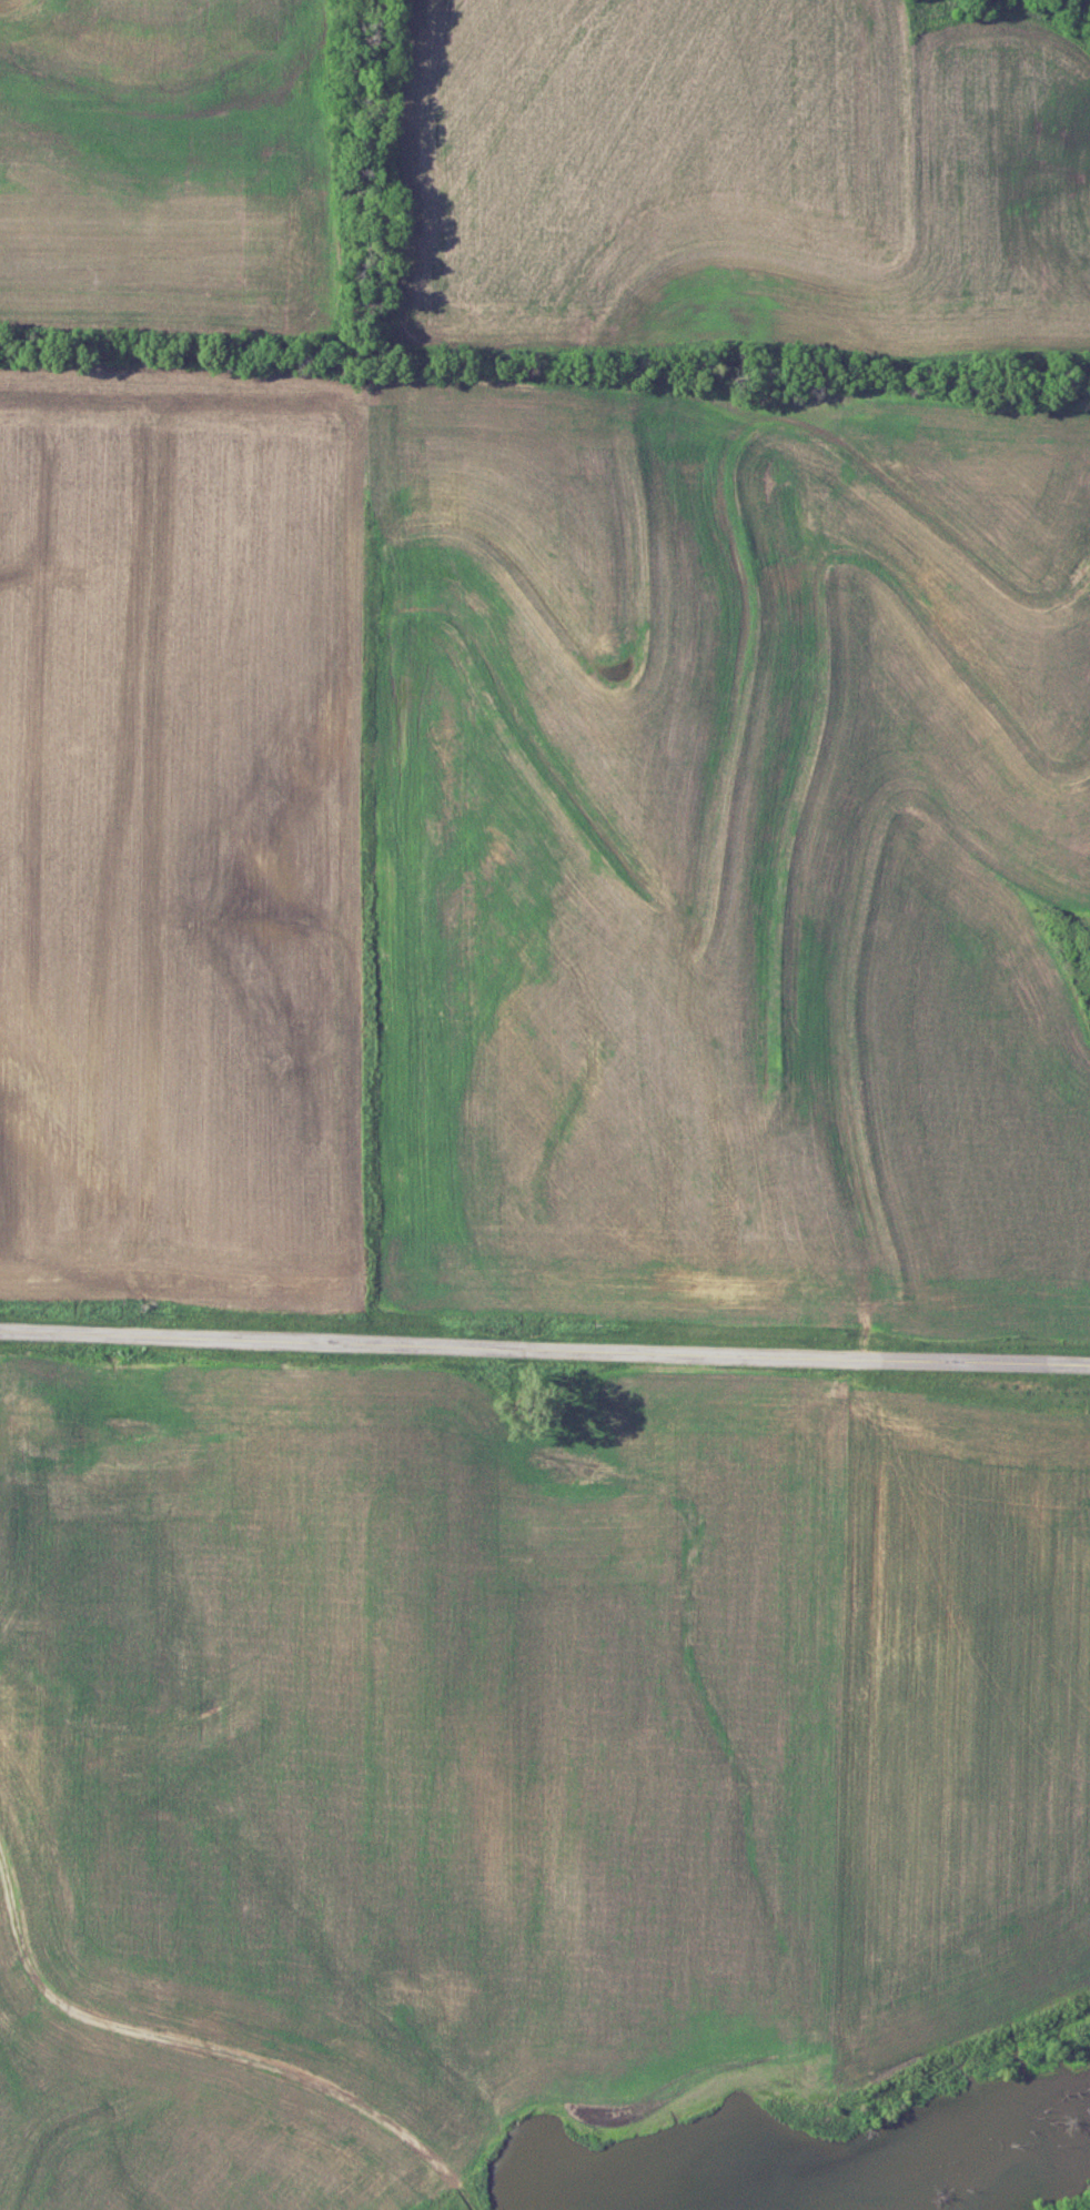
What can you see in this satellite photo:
road: (544, 1348)
dam: (501, 2198)

